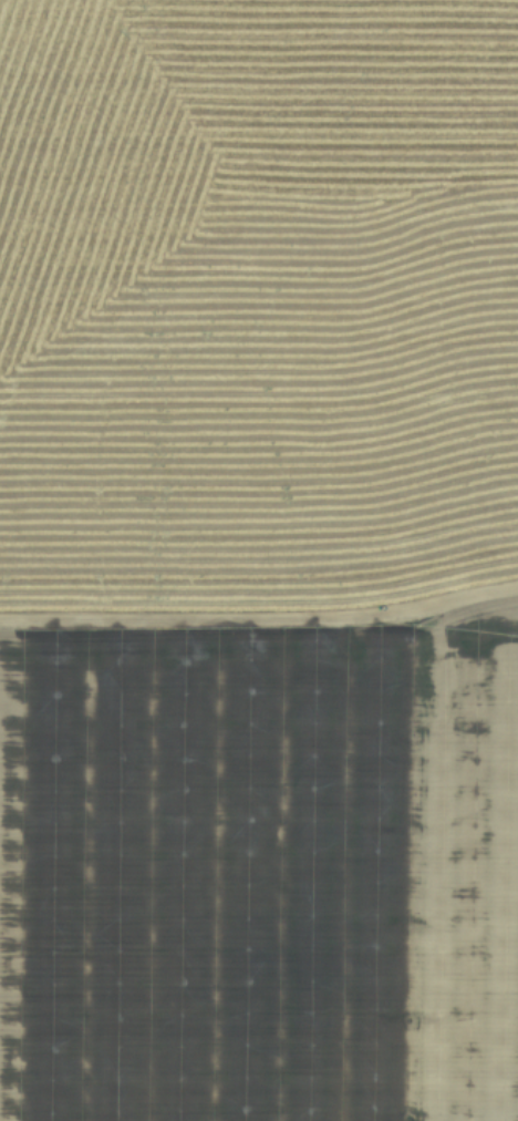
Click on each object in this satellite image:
crop: (259, 560)

